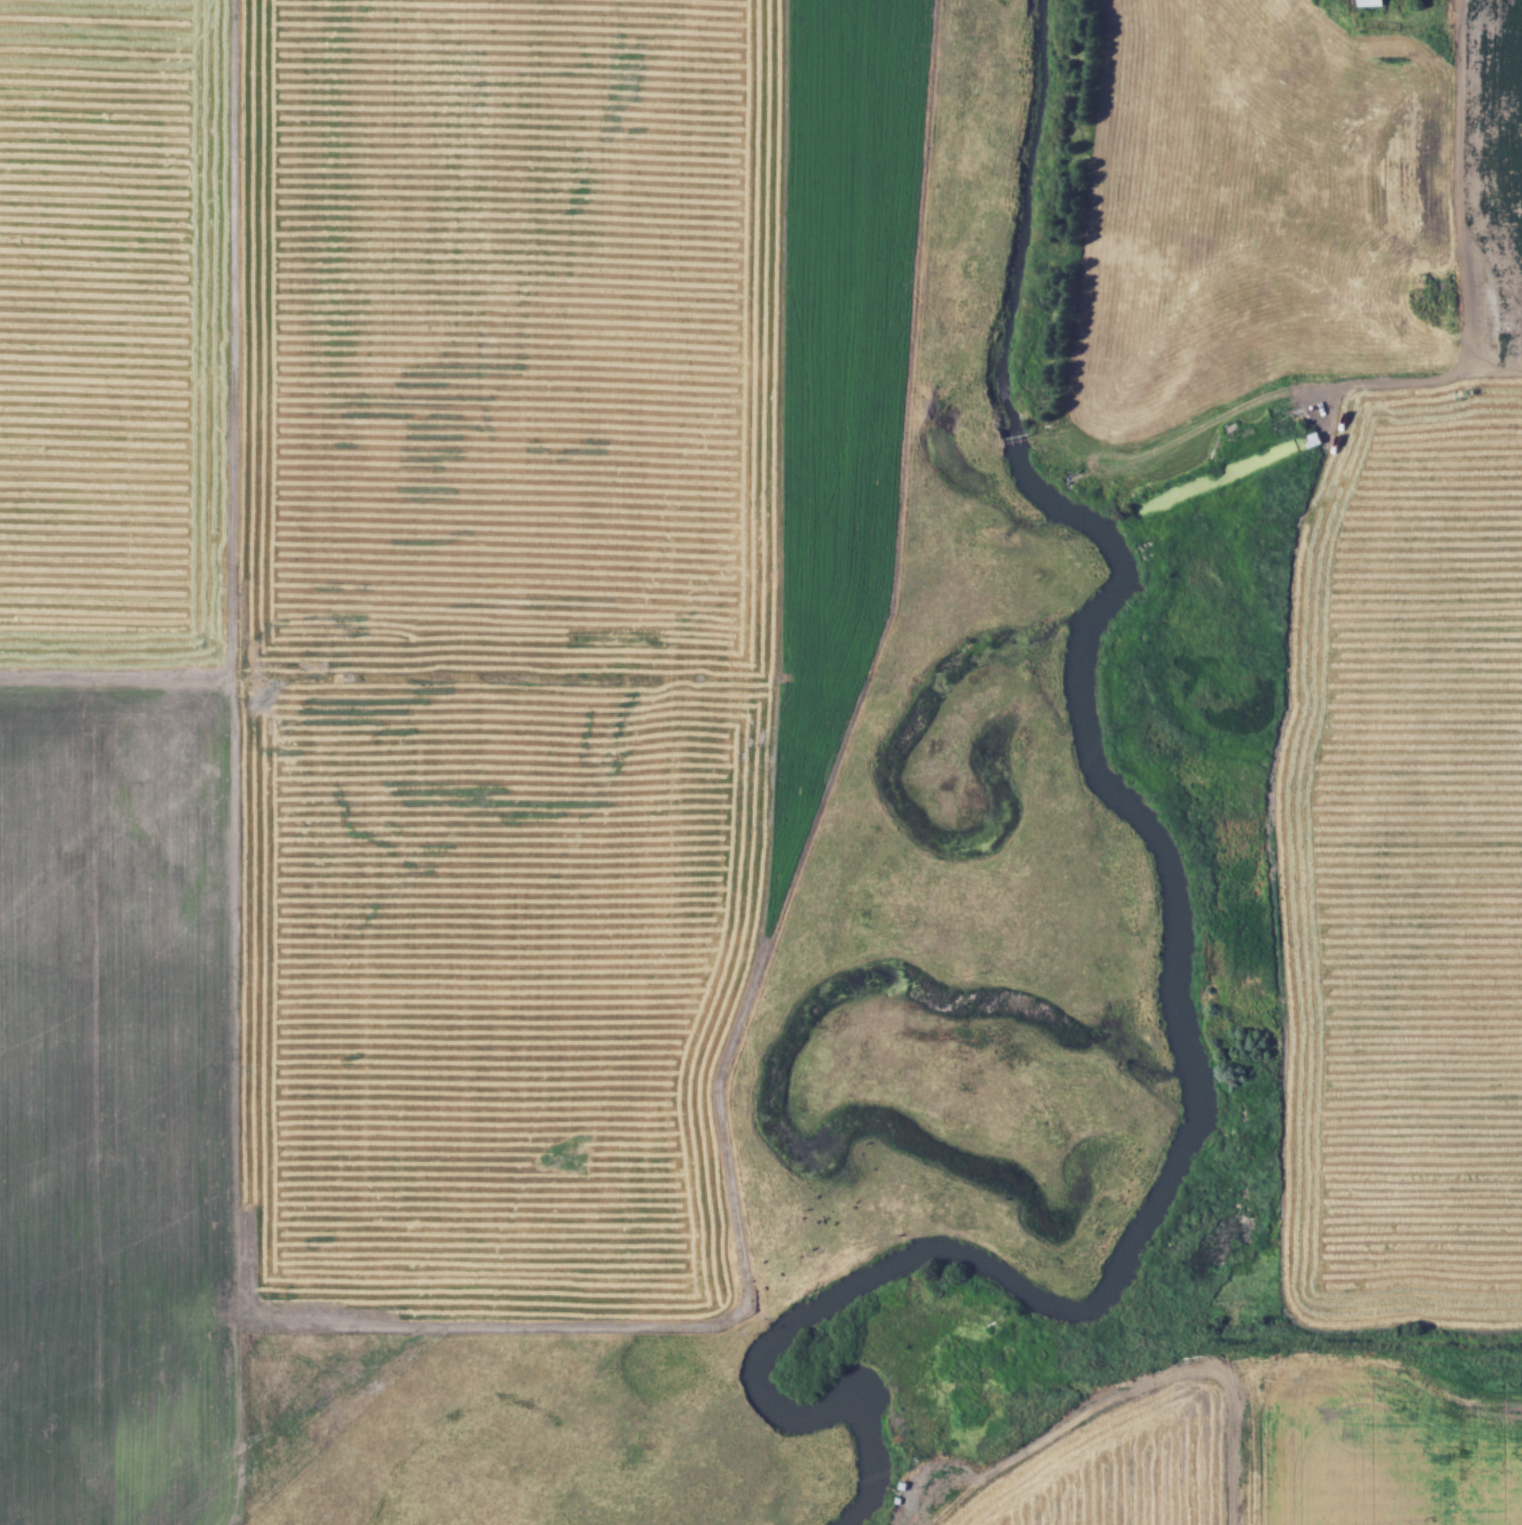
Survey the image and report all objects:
building: (1314, 440)

